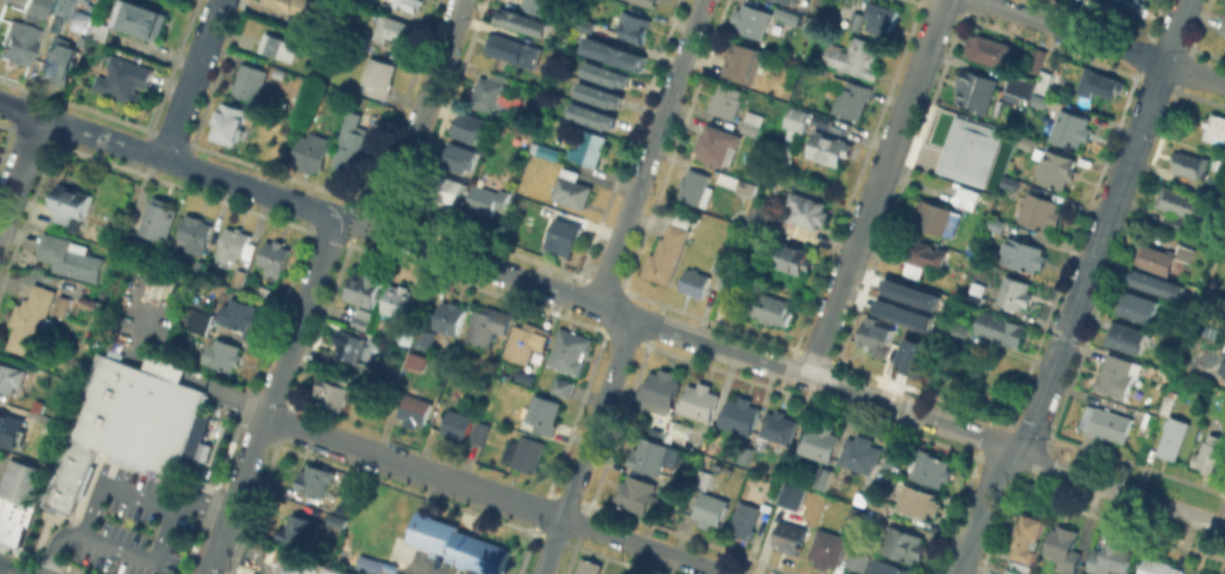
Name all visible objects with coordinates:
building: (84, 0)
building: (792, 0)
building: (649, 1)
building: (409, 4)
building: (292, 5)
building: (539, 5)
building: (1128, 5)
building: (65, 8)
building: (783, 14)
building: (881, 17)
building: (523, 19)
building: (749, 19)
building: (855, 19)
building: (142, 20)
building: (307, 23)
building: (586, 23)
building: (635, 26)
building: (1223, 26)
building: (396, 29)
building: (23, 32)
building: (98, 32)
building: (358, 37)
road: (1100, 41)
building: (278, 46)
building: (515, 49)
building: (990, 49)
building: (614, 52)
building: (854, 55)
building: (1037, 58)
building: (61, 59)
building: (743, 61)
building: (607, 72)
building: (378, 75)
road: (191, 79)
building: (125, 80)
building: (251, 80)
building: (1047, 81)
building: (1099, 83)
building: (1021, 85)
building: (975, 90)
building: (492, 92)
building: (544, 95)
building: (599, 95)
building: (849, 96)
building: (726, 99)
building: (1039, 99)
building: (592, 114)
road: (420, 115)
building: (797, 117)
building: (752, 121)
building: (230, 122)
building: (1214, 126)
building: (473, 127)
building: (1070, 127)
building: (1026, 140)
building: (350, 143)
building: (717, 144)
building: (589, 147)
building: (828, 147)
building: (969, 150)
building: (313, 151)
building: (550, 152)
road: (648, 152)
building: (461, 158)
road: (168, 159)
building: (1189, 163)
building: (1055, 167)
road: (20, 171)
building: (737, 182)
building: (1009, 185)
building: (696, 186)
building: (449, 188)
building: (572, 188)
road: (877, 188)
building: (967, 197)
building: (490, 198)
building: (1177, 201)
building: (71, 203)
building: (806, 210)
building: (1040, 211)
building: (155, 216)
building: (763, 216)
building: (933, 216)
building: (1178, 222)
building: (997, 223)
road: (358, 224)
building: (109, 230)
building: (197, 235)
building: (565, 235)
building: (126, 236)
building: (235, 244)
building: (669, 249)
building: (926, 253)
building: (1023, 254)
building: (71, 256)
building: (276, 256)
building: (1161, 256)
building: (795, 258)
building: (721, 262)
building: (239, 277)
building: (733, 277)
building: (697, 282)
building: (1157, 283)
building: (365, 288)
building: (974, 292)
building: (1015, 292)
road: (1080, 292)
building: (913, 294)
building: (1209, 298)
building: (400, 300)
building: (62, 306)
building: (1139, 306)
building: (770, 307)
building: (239, 313)
building: (906, 313)
building: (364, 316)
building: (450, 316)
building: (31, 319)
building: (199, 319)
building: (487, 324)
building: (1001, 328)
building: (959, 331)
building: (406, 333)
building: (876, 333)
building: (422, 337)
building: (1128, 338)
building: (527, 340)
building: (349, 344)
building: (568, 350)
building: (224, 354)
building: (921, 358)
building: (414, 361)
building: (1221, 365)
building: (386, 367)
building: (11, 375)
road: (803, 375)
building: (1116, 375)
building: (522, 376)
building: (559, 385)
building: (335, 388)
building: (661, 389)
road: (271, 395)
building: (699, 400)
building: (31, 403)
building: (1167, 404)
building: (415, 407)
building: (545, 413)
building: (740, 415)
building: (1106, 422)
building: (1147, 422)
building: (457, 423)
building: (126, 424)
building: (779, 427)
building: (683, 428)
building: (10, 429)
building: (480, 430)
building: (1173, 436)
building: (819, 441)
road: (587, 446)
building: (200, 448)
building: (524, 452)
building: (1212, 453)
building: (650, 454)
building: (744, 454)
building: (866, 457)
building: (787, 458)
building: (930, 466)
road: (413, 467)
building: (824, 476)
building: (316, 478)
building: (18, 479)
building: (705, 479)
building: (834, 479)
road: (107, 483)
building: (639, 495)
building: (782, 501)
building: (918, 501)
building: (879, 503)
building: (710, 509)
building: (854, 514)
building: (749, 518)
building: (336, 520)
parking lot: (127, 525)
building: (10, 530)
building: (300, 530)
building: (789, 536)
building: (1025, 536)
building: (461, 540)
building: (902, 543)
road: (643, 545)
building: (1063, 546)
building: (828, 548)
road: (146, 556)
building: (1111, 557)
building: (858, 558)
building: (306, 566)
building: (390, 567)
building: (1159, 567)
building: (888, 568)
building: (592, 569)
road: (8, 570)
building: (1010, 572)
building: (241, 573)
road: (413, 573)
building: (623, 573)
building: (1189, 573)
building: (1200, 573)

